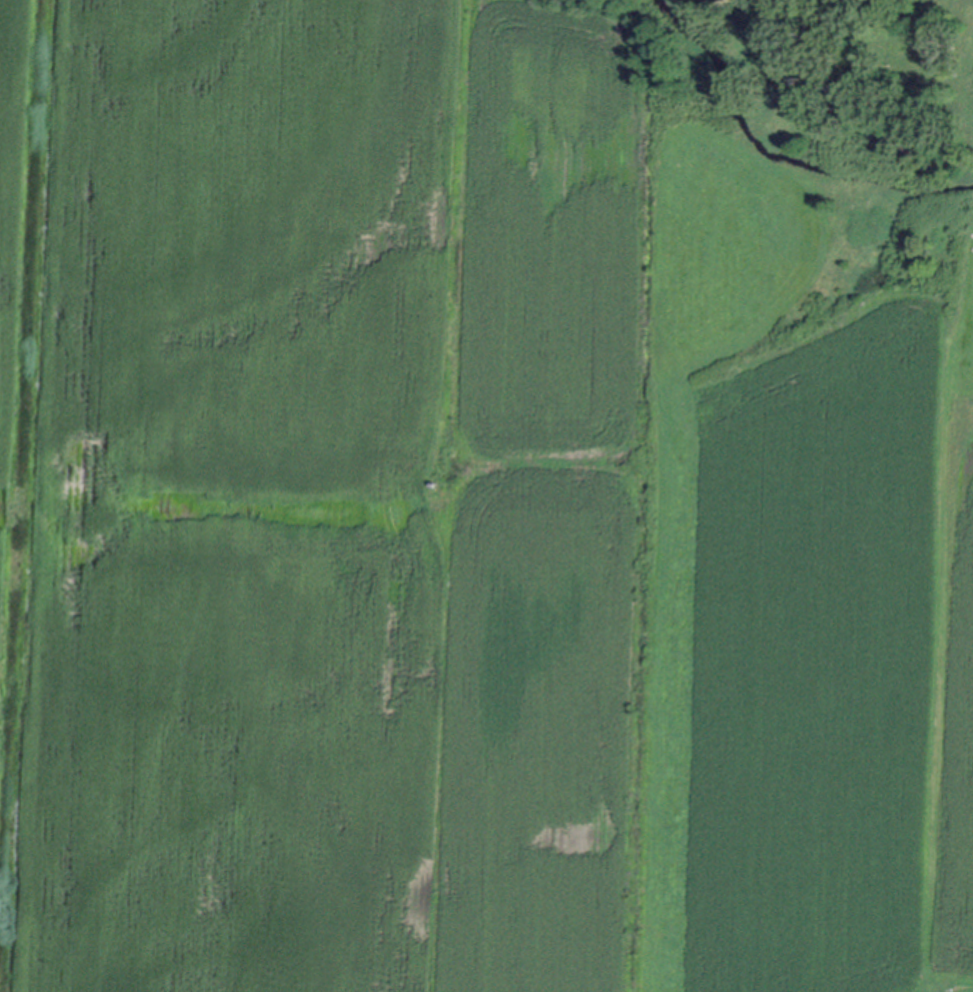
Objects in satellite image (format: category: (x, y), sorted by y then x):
river: (778, 151)

